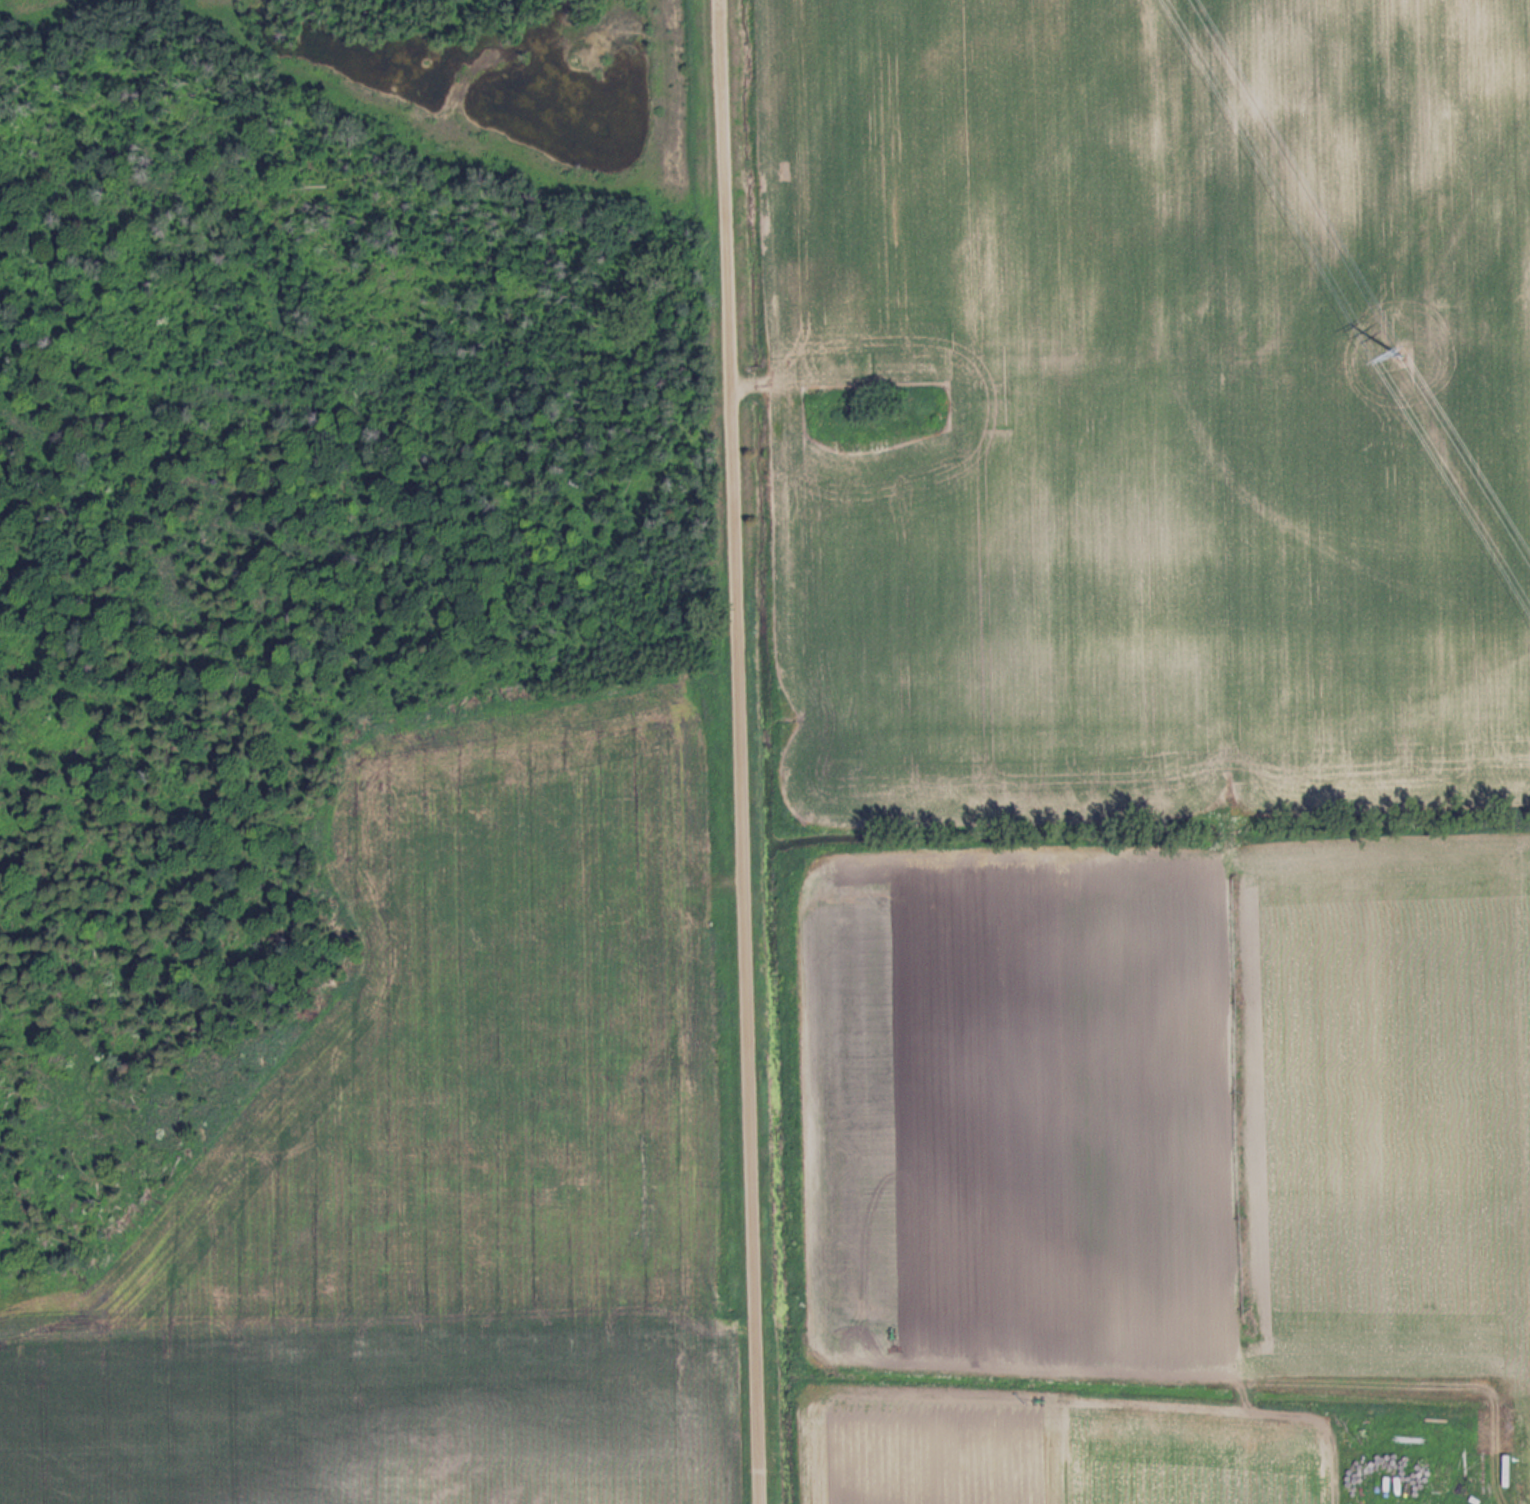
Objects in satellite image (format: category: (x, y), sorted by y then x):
power tower: (1401, 351)
road: (737, 752)

